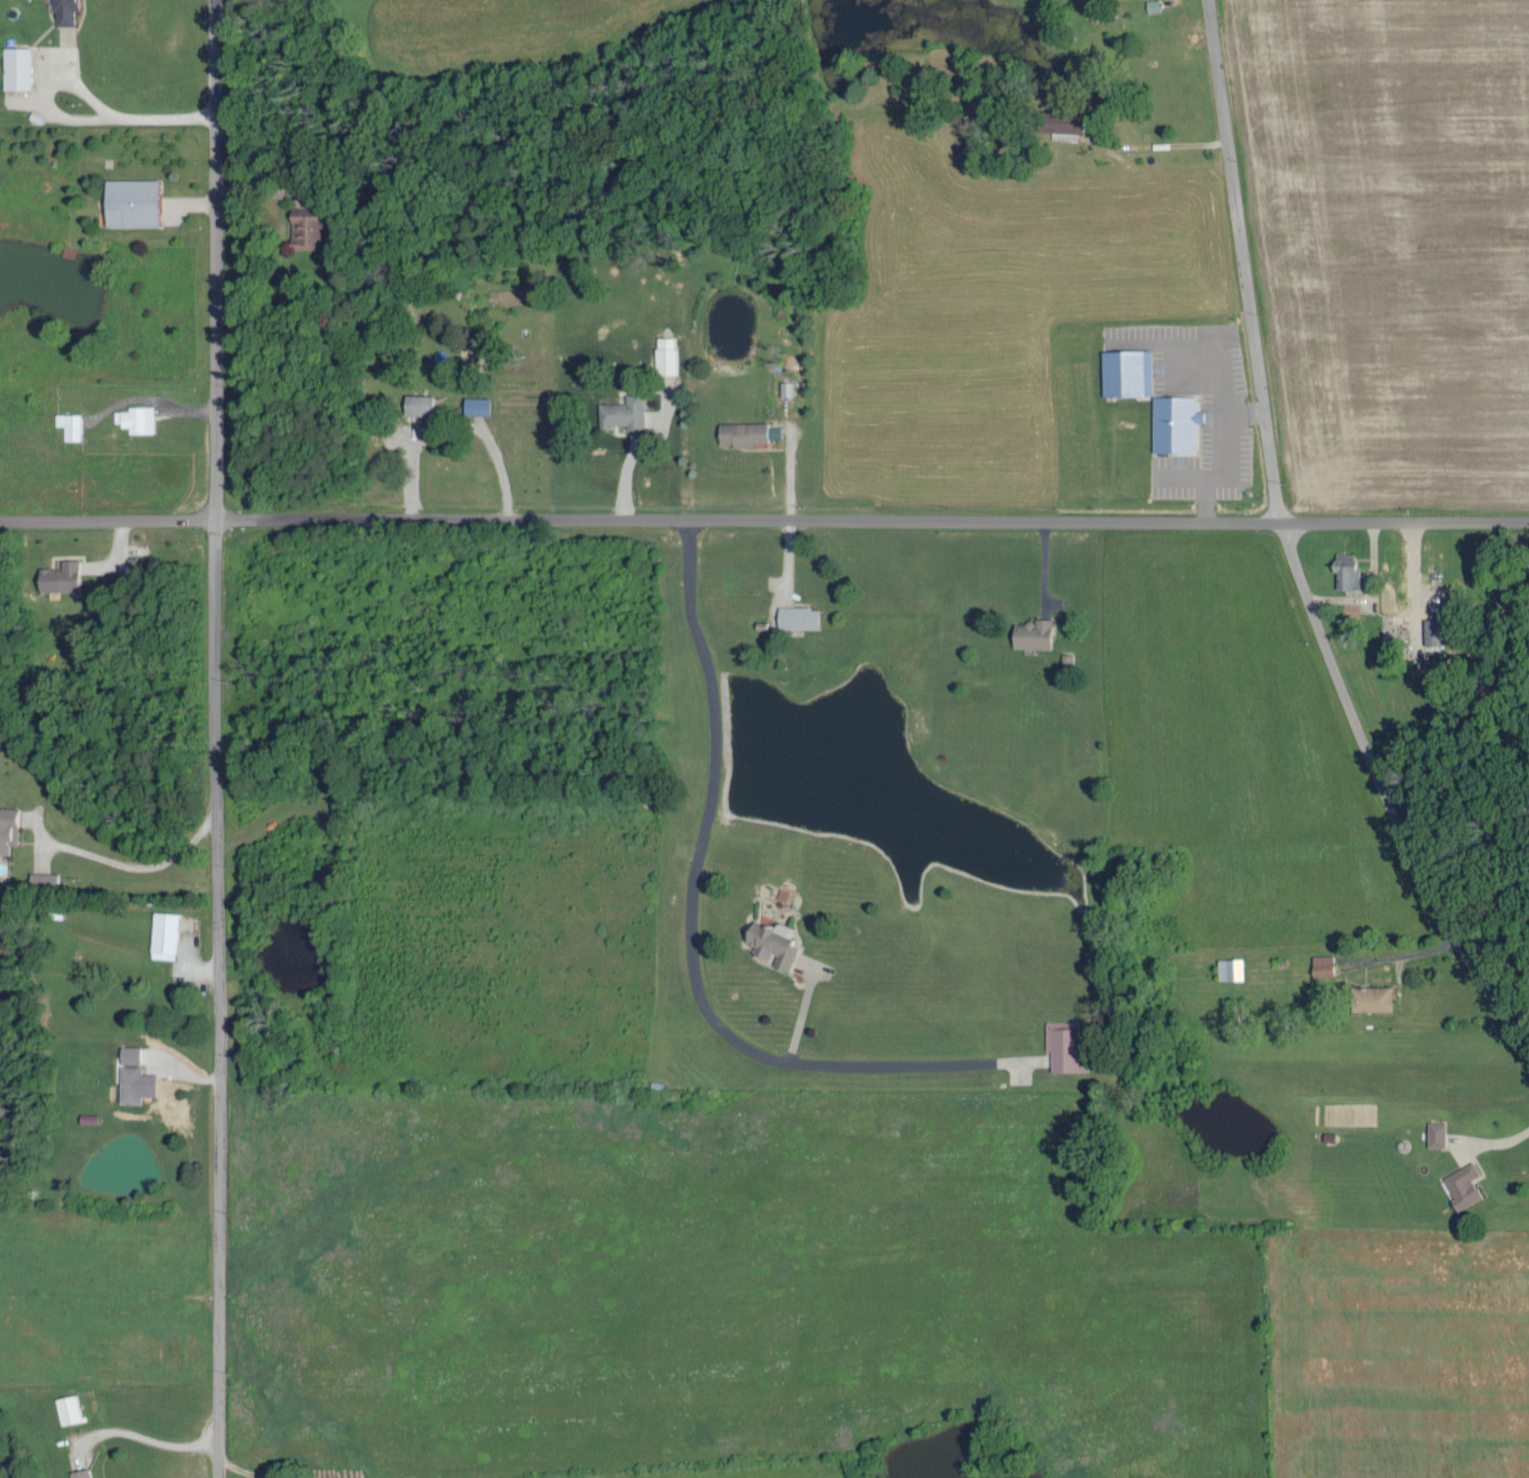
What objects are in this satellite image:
building: (1151, 5)
building: (63, 11)
building: (15, 66)
road: (87, 94)
building: (1061, 120)
building: (130, 201)
building: (306, 226)
building: (665, 354)
building: (1125, 371)
building: (785, 387)
building: (417, 403)
building: (475, 404)
building: (622, 411)
building: (135, 417)
building: (1173, 423)
building: (68, 424)
building: (741, 432)
road: (764, 518)
road: (1291, 551)
building: (1344, 569)
building: (58, 575)
building: (797, 616)
building: (1432, 630)
building: (1031, 633)
road: (211, 739)
building: (7, 826)
road: (122, 866)
building: (42, 877)
road: (691, 888)
building: (163, 933)
building: (772, 940)
building: (1321, 963)
building: (1229, 966)
building: (1370, 996)
building: (1064, 1044)
building: (128, 1082)
building: (1435, 1132)
building: (1462, 1183)
building: (67, 1407)
road: (142, 1436)
building: (79, 1472)

